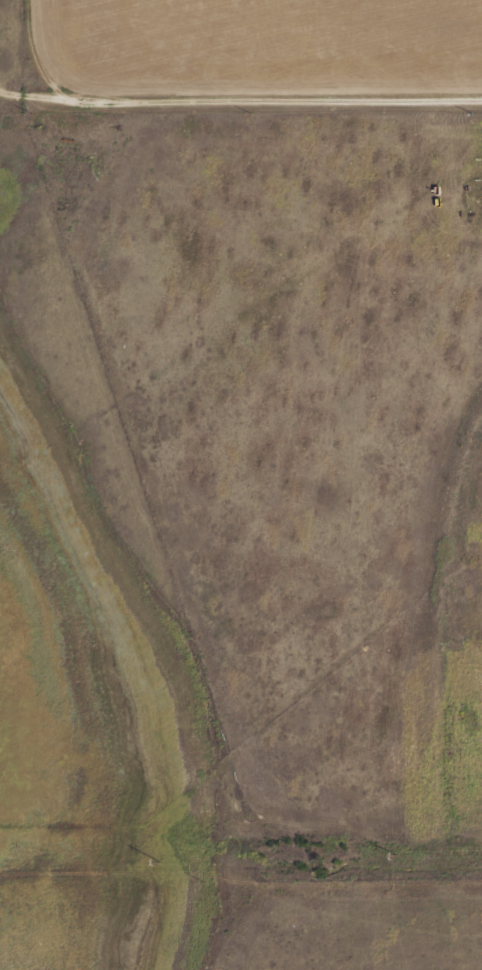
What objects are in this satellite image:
road: (15, 25)
road: (234, 91)

